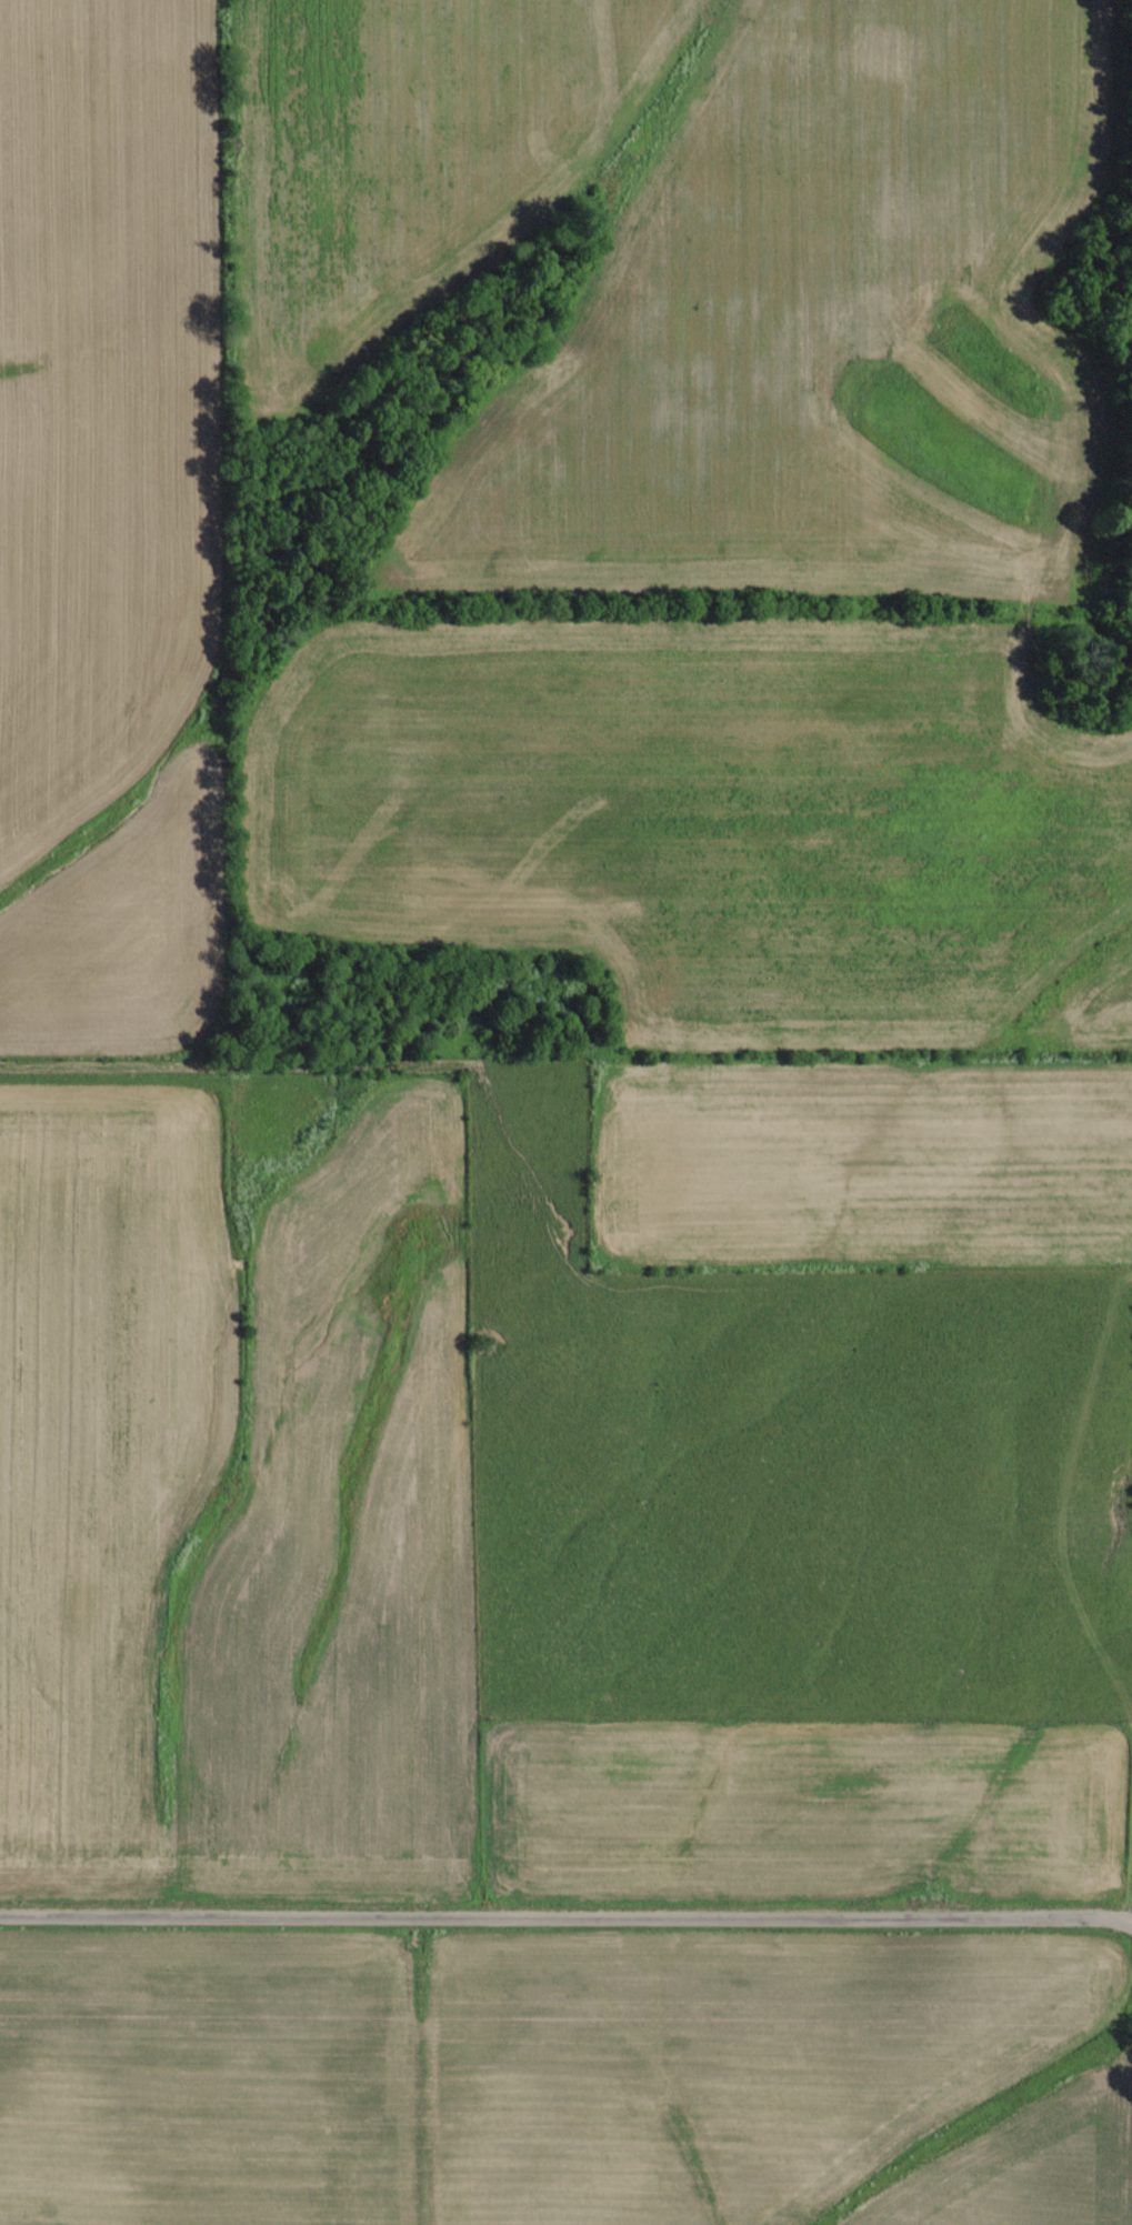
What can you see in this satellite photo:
road: (567, 1906)

